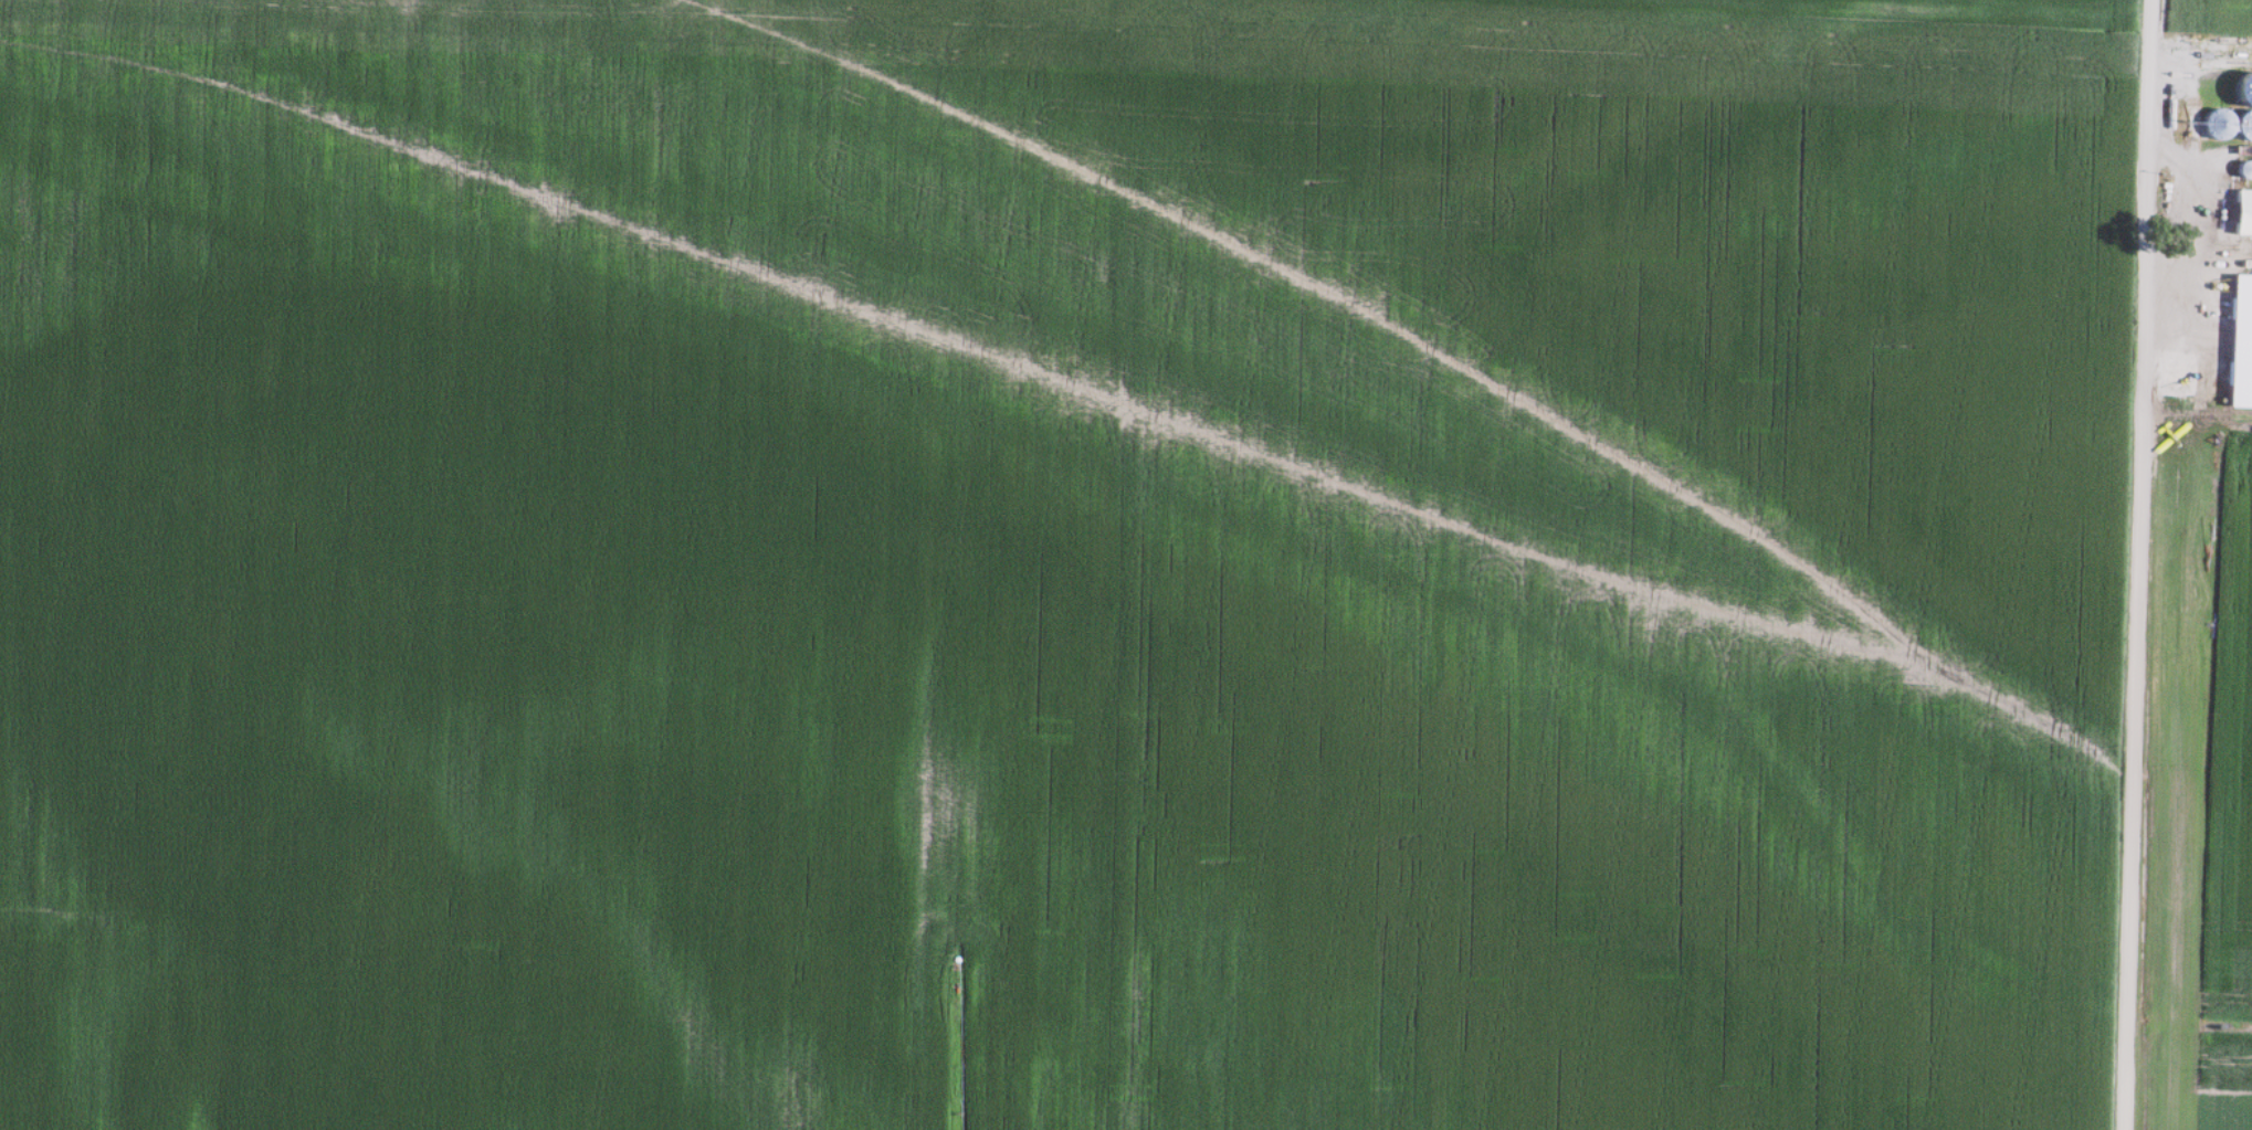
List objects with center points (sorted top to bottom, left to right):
building: (2214, 124)
building: (2244, 127)
building: (2243, 170)
building: (2242, 213)
building: (2239, 344)
road: (2137, 564)

